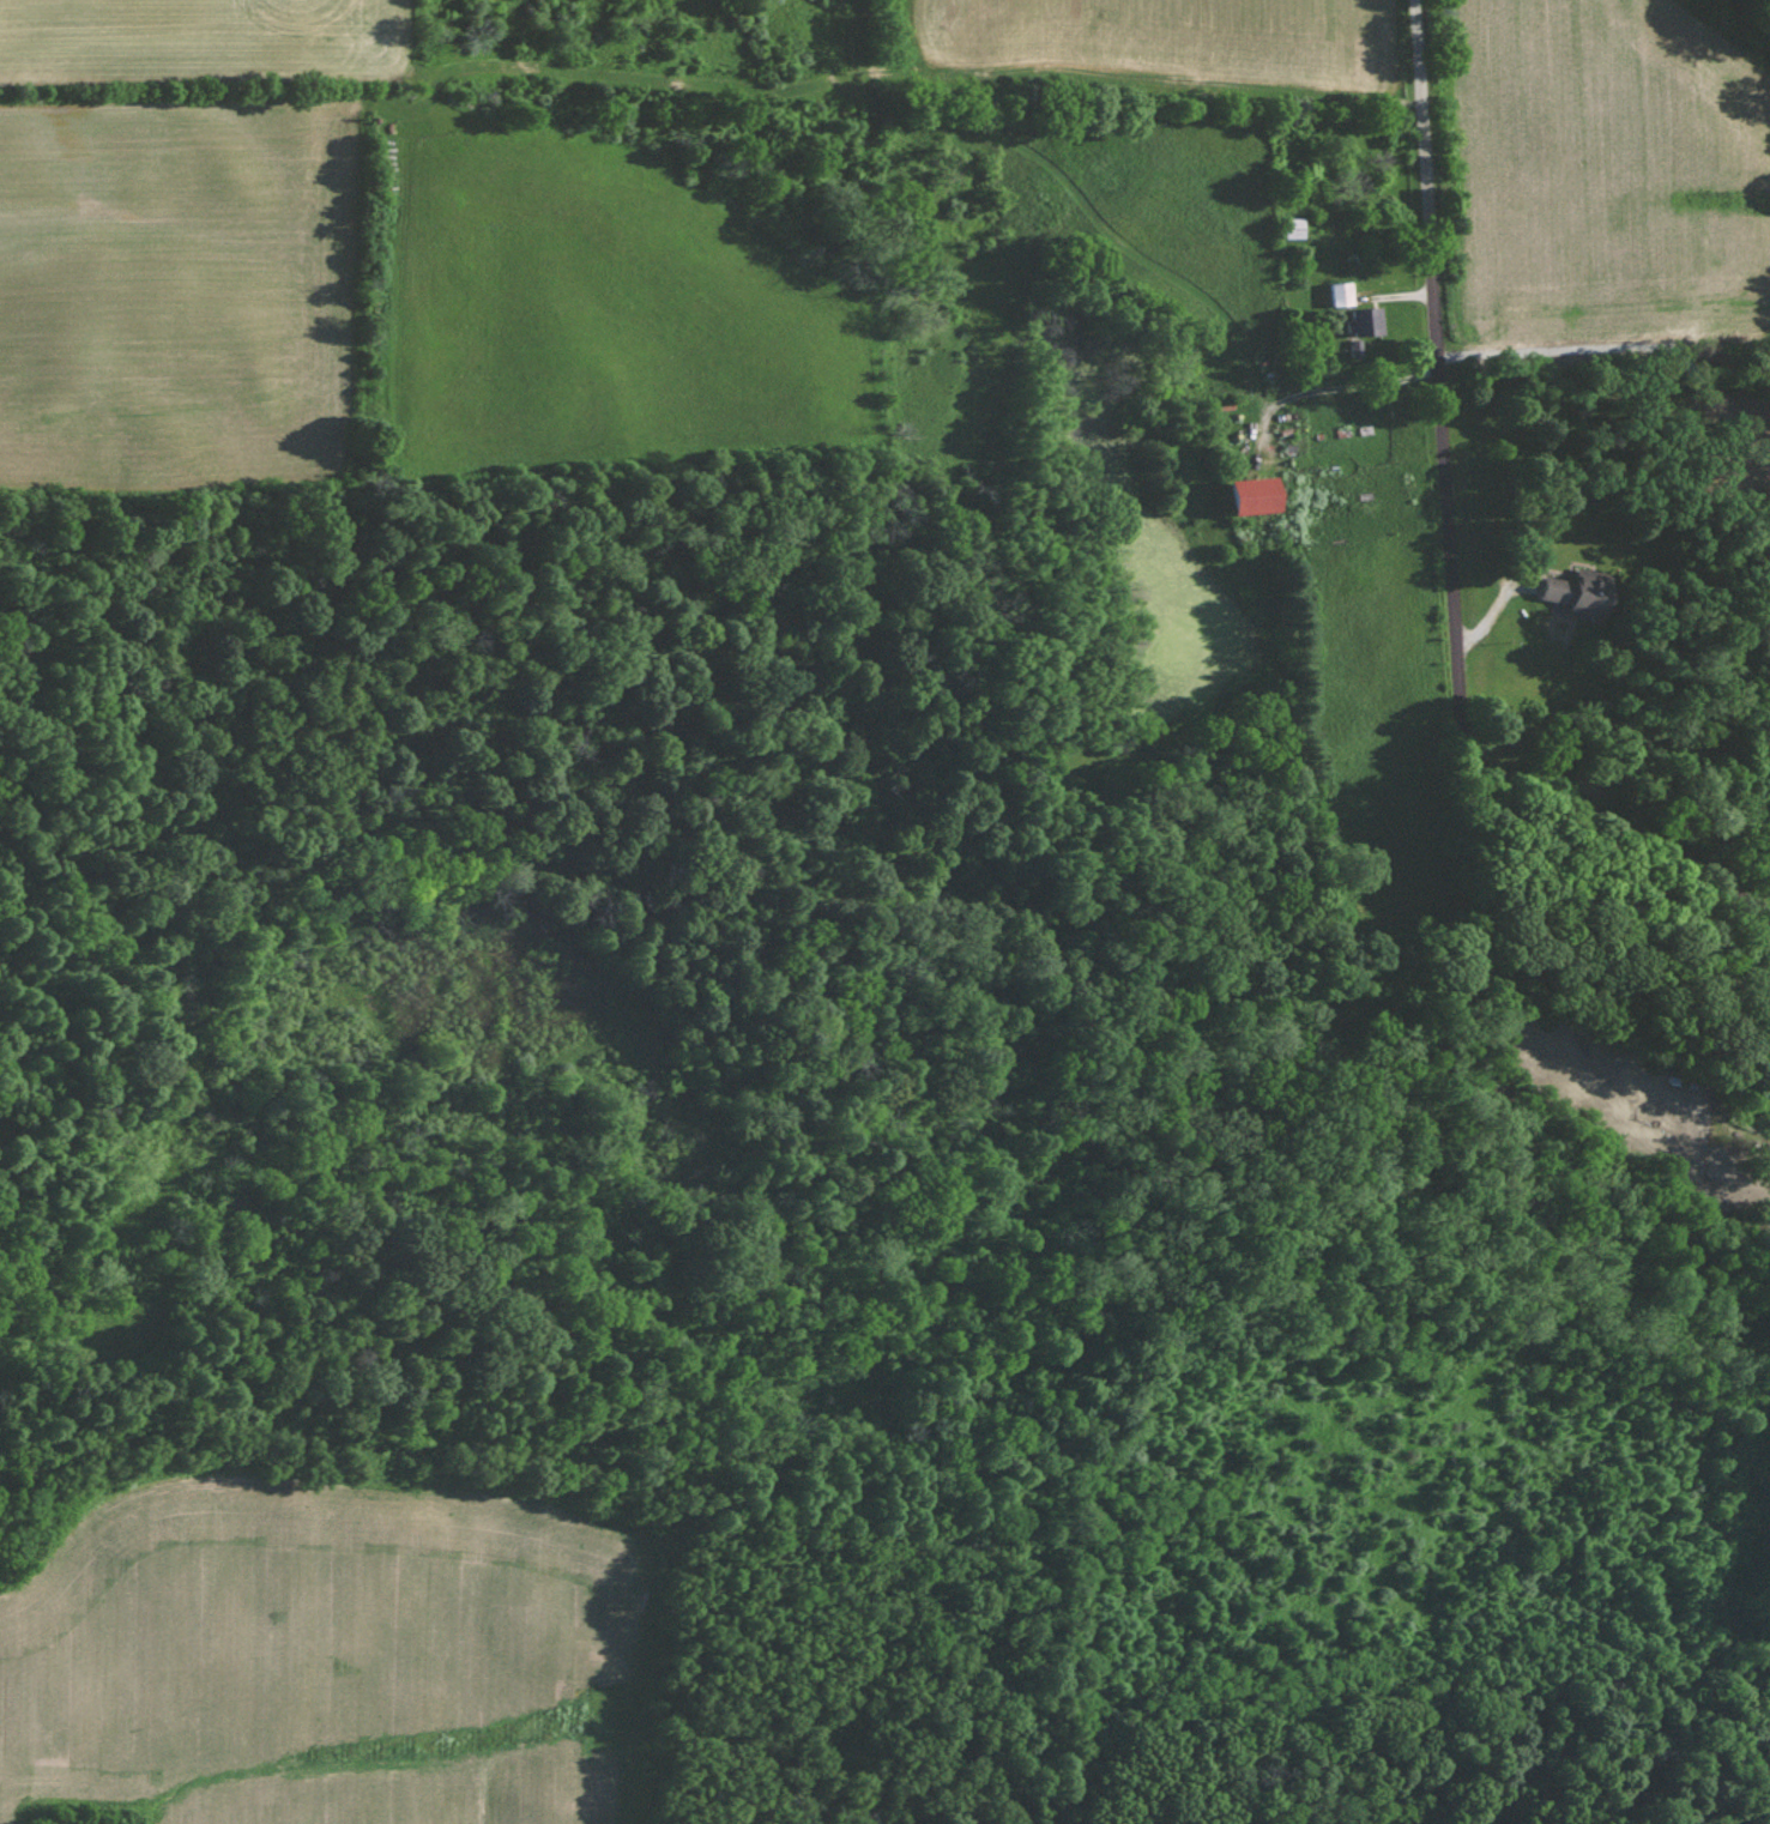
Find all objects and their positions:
building: (1342, 292)
building: (1367, 320)
building: (1257, 494)
road: (1451, 548)
building: (1576, 592)
building: (1769, 1073)

